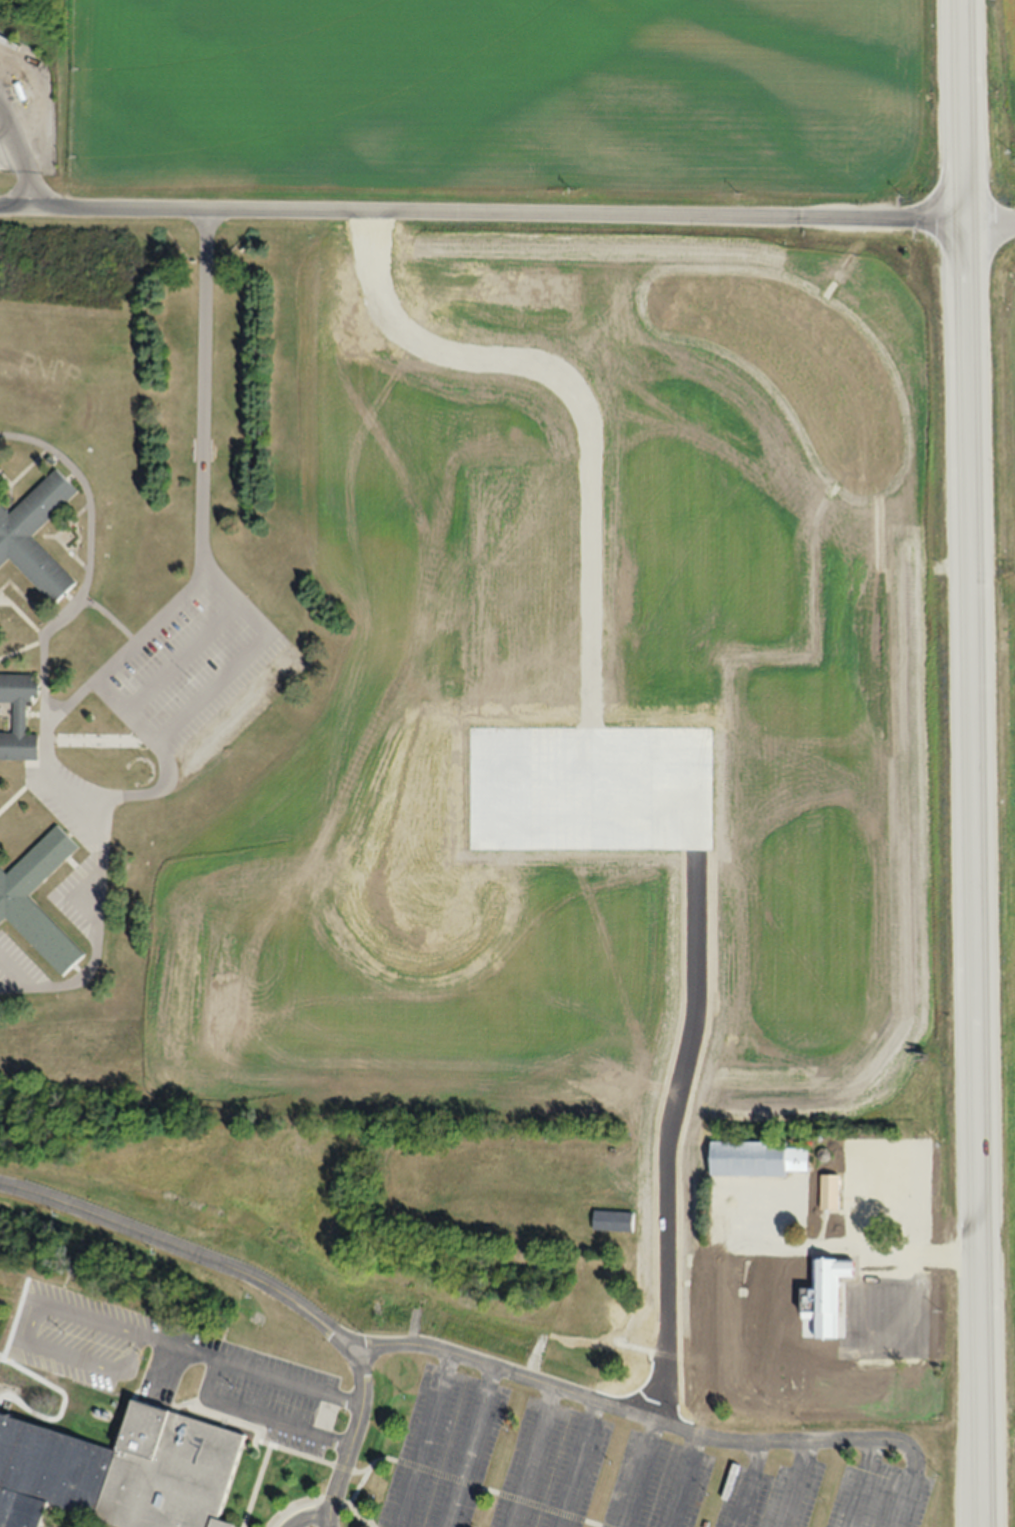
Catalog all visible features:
road: (965, 114)
road: (0, 134)
road: (14, 173)
road: (482, 222)
road: (990, 229)
building: (21, 525)
road: (78, 691)
building: (16, 718)
road: (974, 878)
building: (19, 907)
road: (95, 935)
building: (759, 1159)
building: (878, 1199)
building: (613, 1220)
road: (272, 1289)
building: (832, 1294)
road: (126, 1329)
parking lot: (185, 1368)
road: (261, 1417)
road: (647, 1419)
road: (438, 1443)
road: (480, 1449)
road: (300, 1454)
road: (539, 1458)
road: (583, 1465)
parking lot: (620, 1473)
road: (644, 1475)
building: (122, 1478)
road: (692, 1483)
road: (804, 1484)
road: (875, 1484)
road: (755, 1485)
road: (908, 1499)
road: (325, 1500)
road: (312, 1520)

